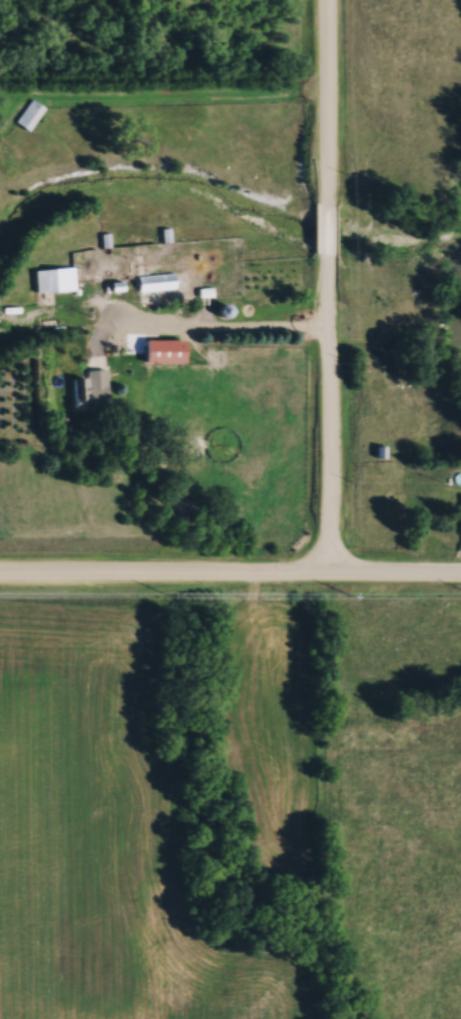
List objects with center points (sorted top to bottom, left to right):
building: (31, 114)
building: (54, 279)
building: (155, 282)
road: (328, 289)
road: (241, 334)
building: (163, 349)
building: (91, 388)
road: (230, 577)

